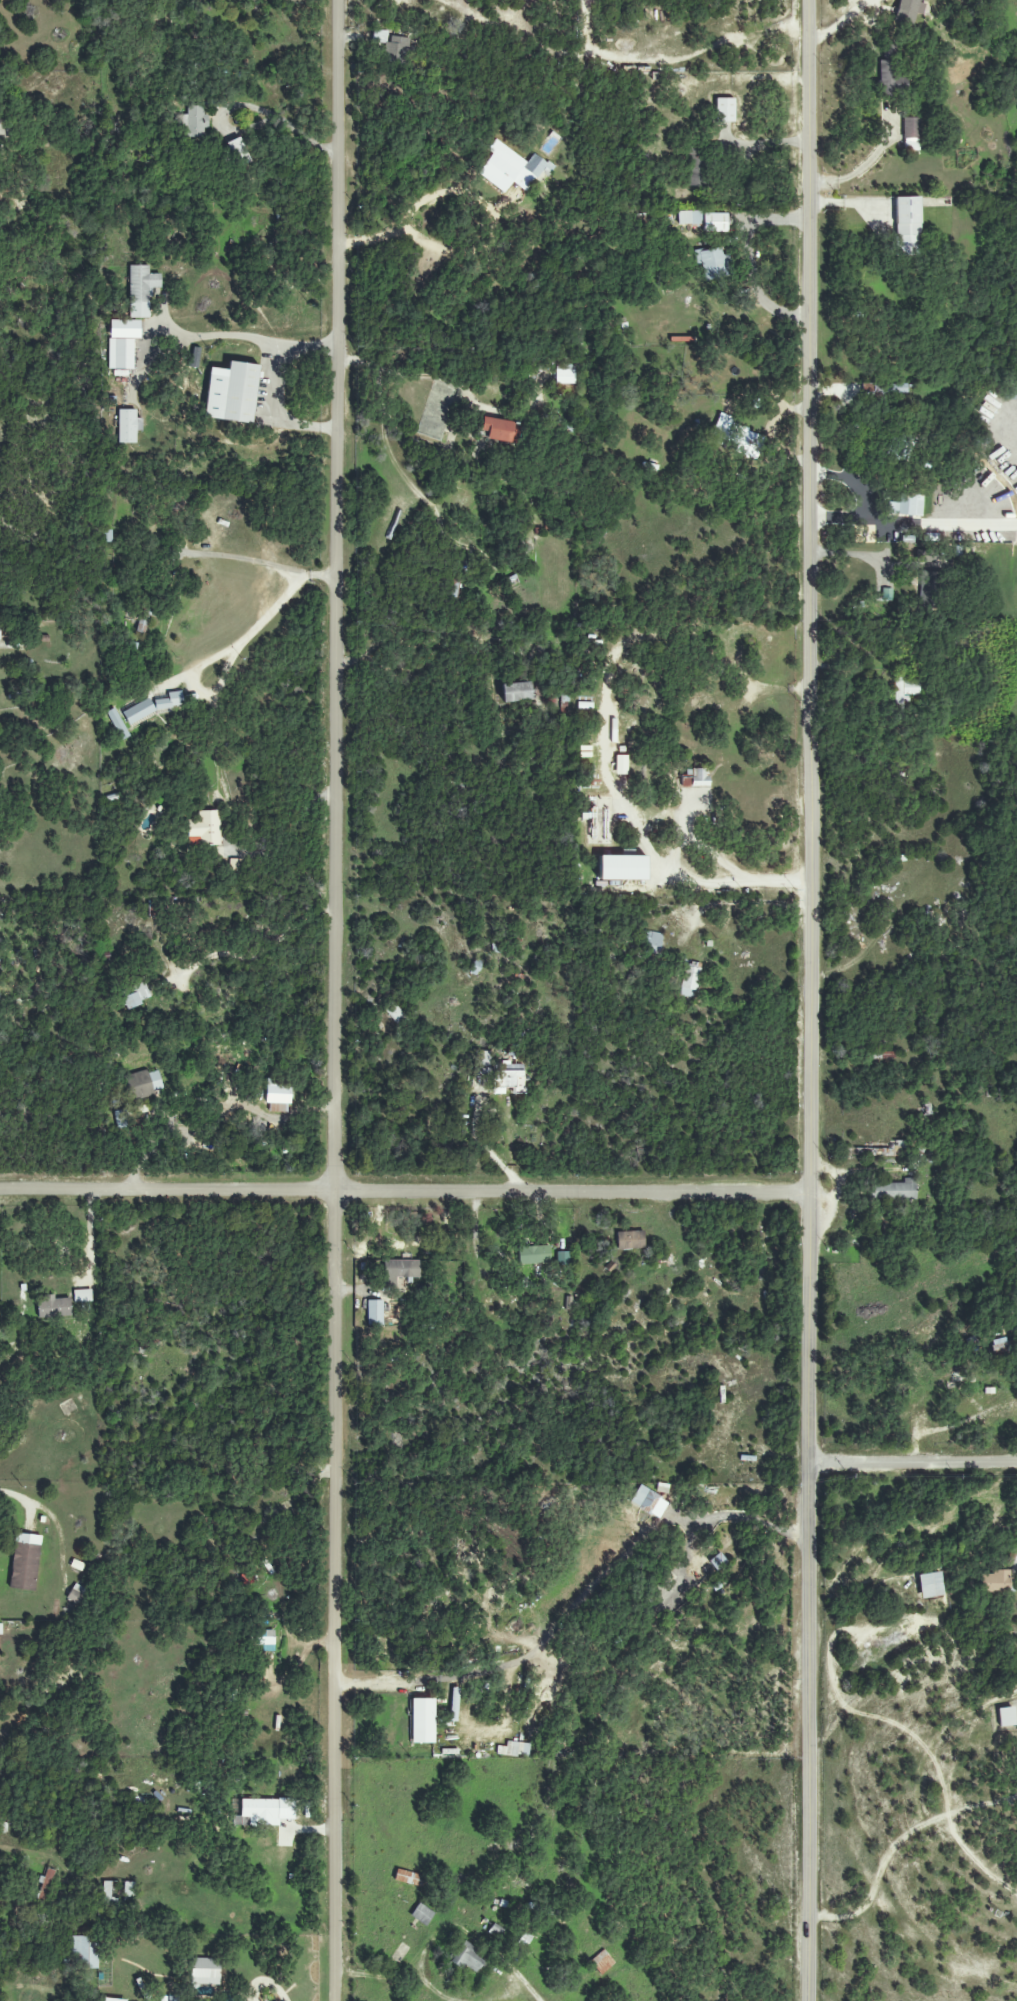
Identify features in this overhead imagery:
building: (908, 11)
road: (844, 23)
building: (392, 44)
building: (888, 77)
building: (724, 110)
building: (193, 122)
building: (911, 128)
building: (4, 130)
building: (238, 152)
building: (694, 165)
road: (859, 166)
building: (513, 169)
road: (414, 210)
building: (704, 220)
building: (907, 226)
building: (713, 263)
building: (141, 284)
building: (124, 329)
road: (247, 337)
road: (401, 349)
building: (124, 354)
building: (565, 374)
building: (890, 389)
building: (231, 392)
building: (1012, 393)
road: (270, 413)
building: (128, 426)
building: (721, 428)
building: (498, 429)
building: (748, 444)
road: (860, 497)
building: (907, 505)
road: (882, 523)
road: (854, 554)
building: (927, 558)
road: (235, 559)
building: (928, 590)
building: (886, 594)
building: (142, 621)
road: (258, 627)
building: (904, 690)
building: (516, 692)
building: (169, 701)
building: (138, 711)
building: (117, 724)
road: (215, 735)
building: (621, 765)
building: (695, 779)
road: (614, 790)
road: (685, 808)
road: (663, 822)
building: (205, 827)
building: (622, 868)
road: (685, 881)
road: (256, 939)
building: (651, 942)
building: (689, 979)
building: (1, 993)
building: (137, 995)
road: (338, 1000)
road: (815, 1000)
building: (393, 1012)
building: (481, 1062)
road: (383, 1068)
building: (509, 1079)
building: (144, 1084)
building: (277, 1096)
building: (131, 1115)
building: (894, 1191)
road: (406, 1194)
road: (90, 1238)
building: (630, 1240)
building: (533, 1254)
building: (562, 1258)
building: (400, 1270)
building: (53, 1307)
road: (754, 1308)
building: (374, 1313)
building: (1000, 1345)
road: (914, 1465)
road: (17, 1496)
road: (759, 1522)
building: (24, 1562)
building: (994, 1581)
building: (929, 1585)
building: (0, 1629)
building: (267, 1638)
building: (1006, 1717)
building: (422, 1721)
building: (518, 1749)
building: (267, 1810)
road: (898, 1845)
building: (408, 1878)
building: (129, 1889)
building: (107, 1890)
building: (422, 1914)
building: (84, 1951)
building: (467, 1958)
building: (601, 1962)
building: (205, 1971)
road: (264, 1982)
road: (25, 1988)
road: (441, 1995)
building: (172, 1998)
building: (111, 1999)

